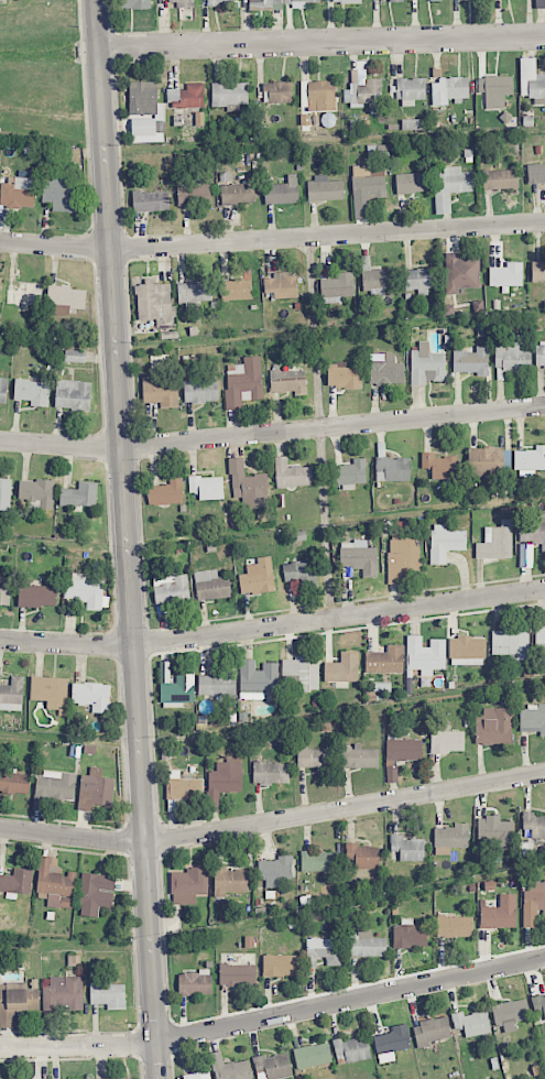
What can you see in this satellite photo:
building: (395, 0)
building: (434, 0)
parking lot: (2, 1)
building: (341, 1)
building: (182, 2)
building: (219, 2)
building: (134, 3)
building: (279, 3)
building: (539, 3)
road: (323, 41)
park: (40, 70)
building: (532, 80)
building: (450, 88)
building: (411, 90)
building: (495, 90)
building: (276, 92)
building: (364, 94)
building: (229, 95)
building: (318, 95)
building: (187, 96)
building: (145, 112)
building: (413, 124)
building: (536, 173)
building: (500, 178)
building: (412, 183)
building: (367, 187)
building: (451, 187)
building: (324, 188)
building: (282, 192)
building: (18, 193)
building: (237, 193)
building: (58, 195)
building: (194, 195)
building: (150, 201)
road: (272, 238)
building: (537, 271)
building: (460, 273)
building: (506, 274)
building: (377, 280)
building: (419, 280)
building: (0, 282)
building: (282, 285)
building: (337, 287)
building: (236, 290)
building: (194, 293)
building: (67, 296)
building: (154, 303)
building: (539, 353)
building: (74, 356)
building: (512, 357)
building: (470, 360)
building: (426, 366)
building: (385, 370)
building: (342, 375)
building: (287, 381)
building: (243, 382)
building: (3, 390)
building: (200, 391)
building: (32, 392)
building: (161, 393)
building: (73, 394)
road: (272, 433)
building: (530, 458)
building: (486, 461)
building: (439, 466)
building: (392, 469)
building: (291, 473)
building: (247, 486)
building: (207, 487)
building: (36, 492)
building: (166, 492)
building: (79, 495)
building: (532, 530)
road: (129, 538)
building: (495, 542)
building: (445, 543)
building: (402, 555)
building: (359, 557)
building: (301, 573)
building: (258, 577)
building: (211, 585)
building: (171, 589)
building: (84, 590)
building: (36, 596)
road: (273, 626)
building: (539, 640)
building: (511, 644)
building: (467, 651)
building: (425, 655)
building: (384, 661)
building: (342, 668)
building: (301, 673)
building: (258, 679)
building: (218, 684)
building: (176, 687)
building: (50, 690)
building: (11, 694)
building: (91, 696)
building: (532, 718)
building: (493, 727)
building: (447, 741)
building: (403, 749)
building: (359, 756)
building: (314, 758)
building: (271, 773)
building: (392, 774)
building: (225, 778)
building: (14, 783)
building: (183, 786)
building: (53, 787)
building: (95, 789)
road: (273, 820)
building: (534, 824)
building: (495, 831)
building: (450, 838)
building: (407, 848)
building: (363, 855)
building: (317, 861)
building: (274, 870)
building: (229, 881)
building: (17, 882)
building: (55, 883)
building: (188, 885)
building: (96, 894)
building: (534, 903)
building: (500, 913)
building: (455, 926)
building: (408, 935)
building: (367, 945)
building: (323, 951)
building: (281, 964)
building: (237, 974)
building: (194, 982)
building: (63, 993)
building: (107, 994)
building: (15, 1001)
building: (538, 1004)
building: (510, 1012)
road: (274, 1017)
building: (471, 1023)
building: (432, 1029)
building: (391, 1043)
building: (351, 1049)
building: (312, 1055)
building: (272, 1067)
building: (229, 1068)
building: (197, 1075)
building: (124, 1078)

